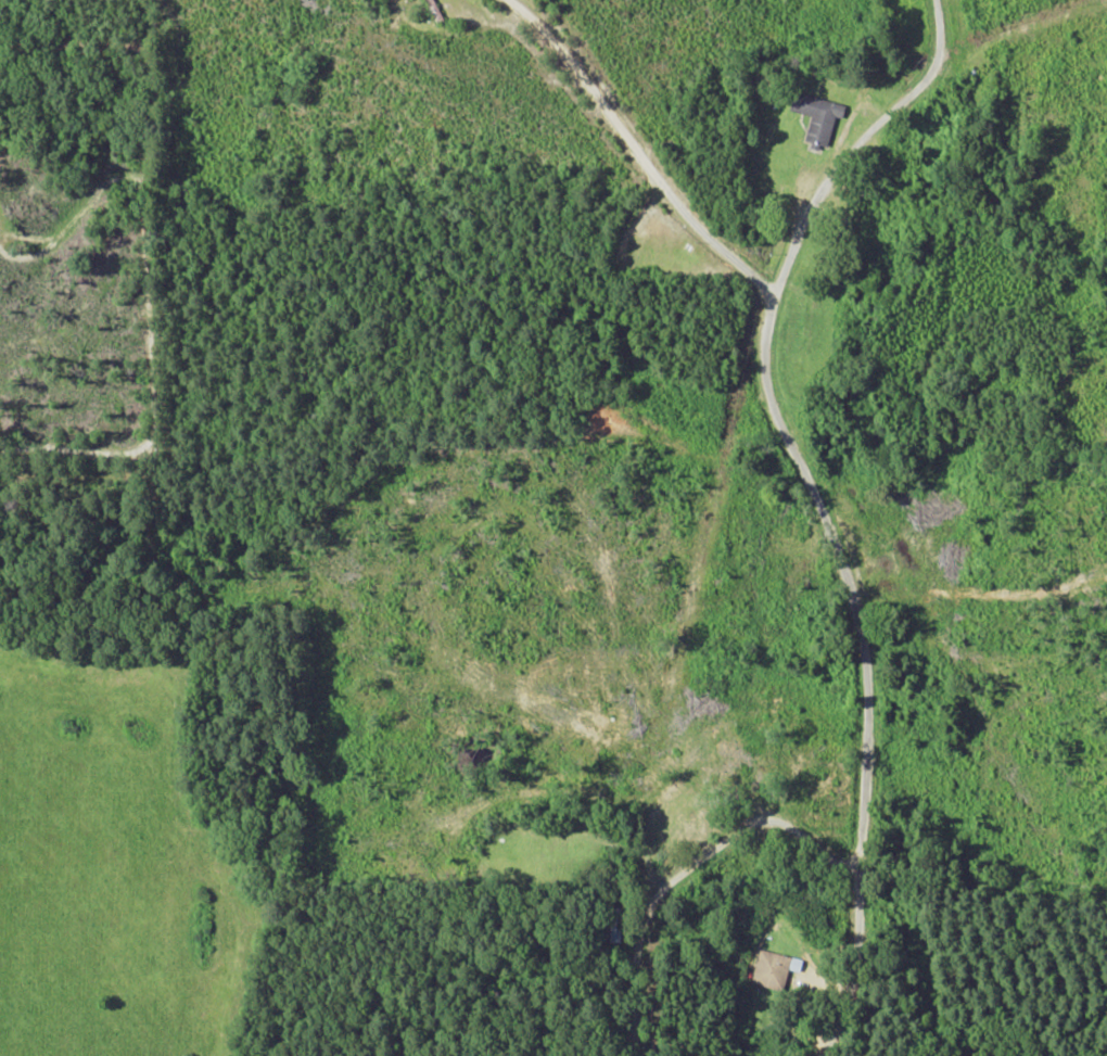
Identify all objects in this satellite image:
building: (819, 117)
road: (737, 649)
road: (803, 663)
road: (690, 867)
building: (776, 972)
road: (857, 975)

